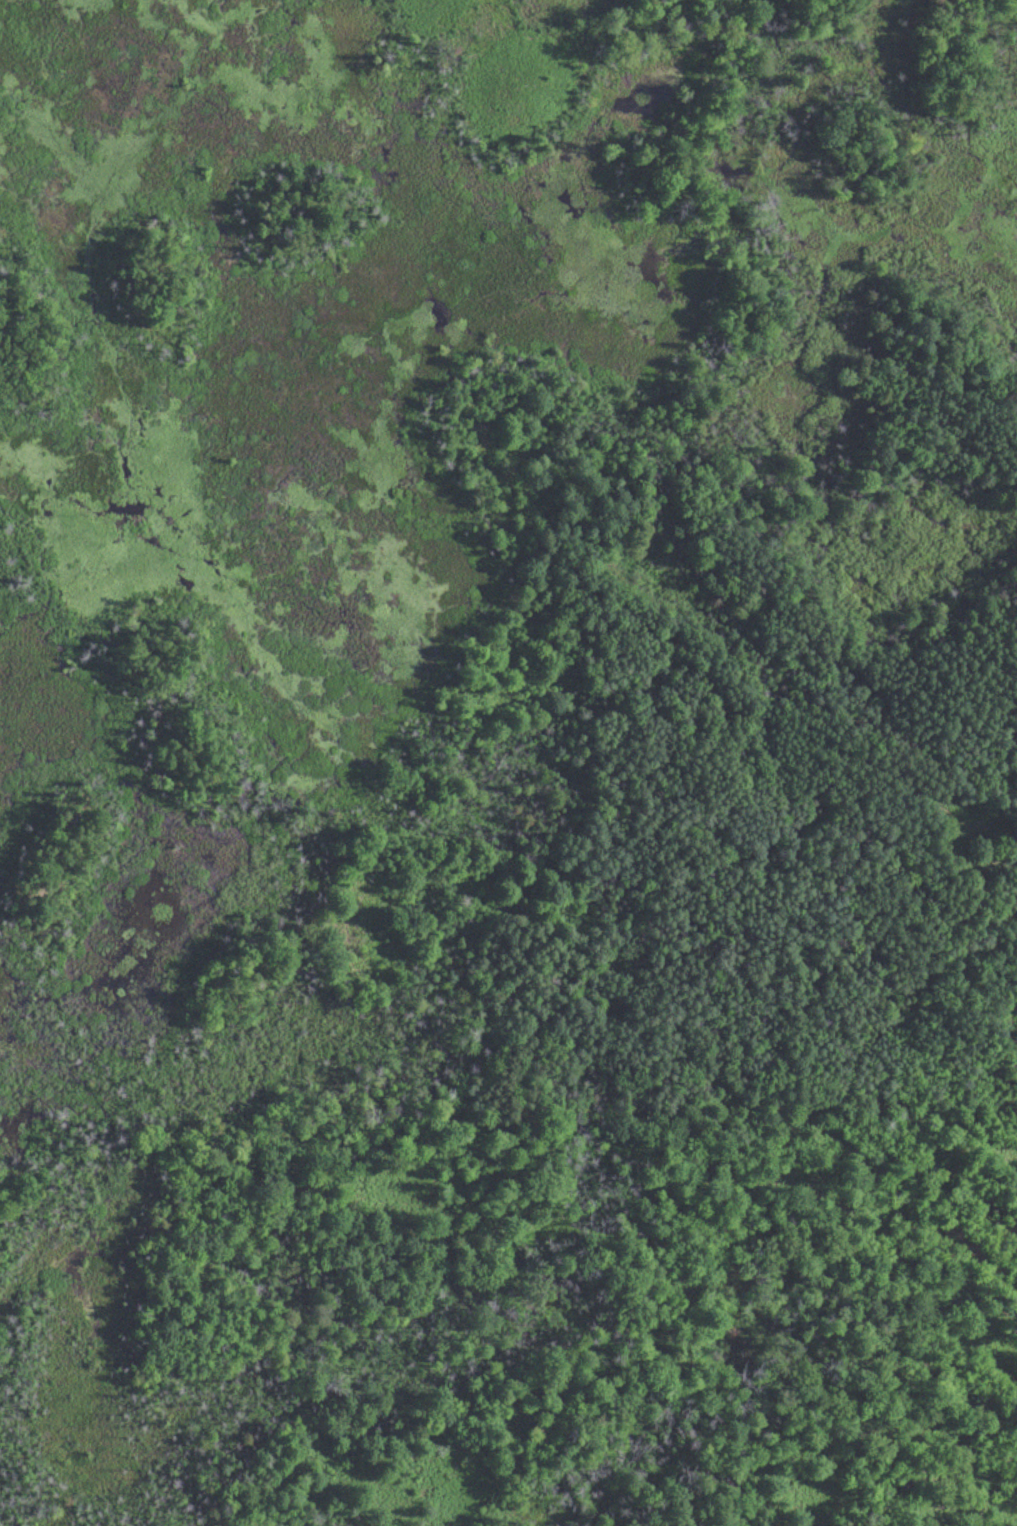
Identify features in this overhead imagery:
road: (912, 1130)

